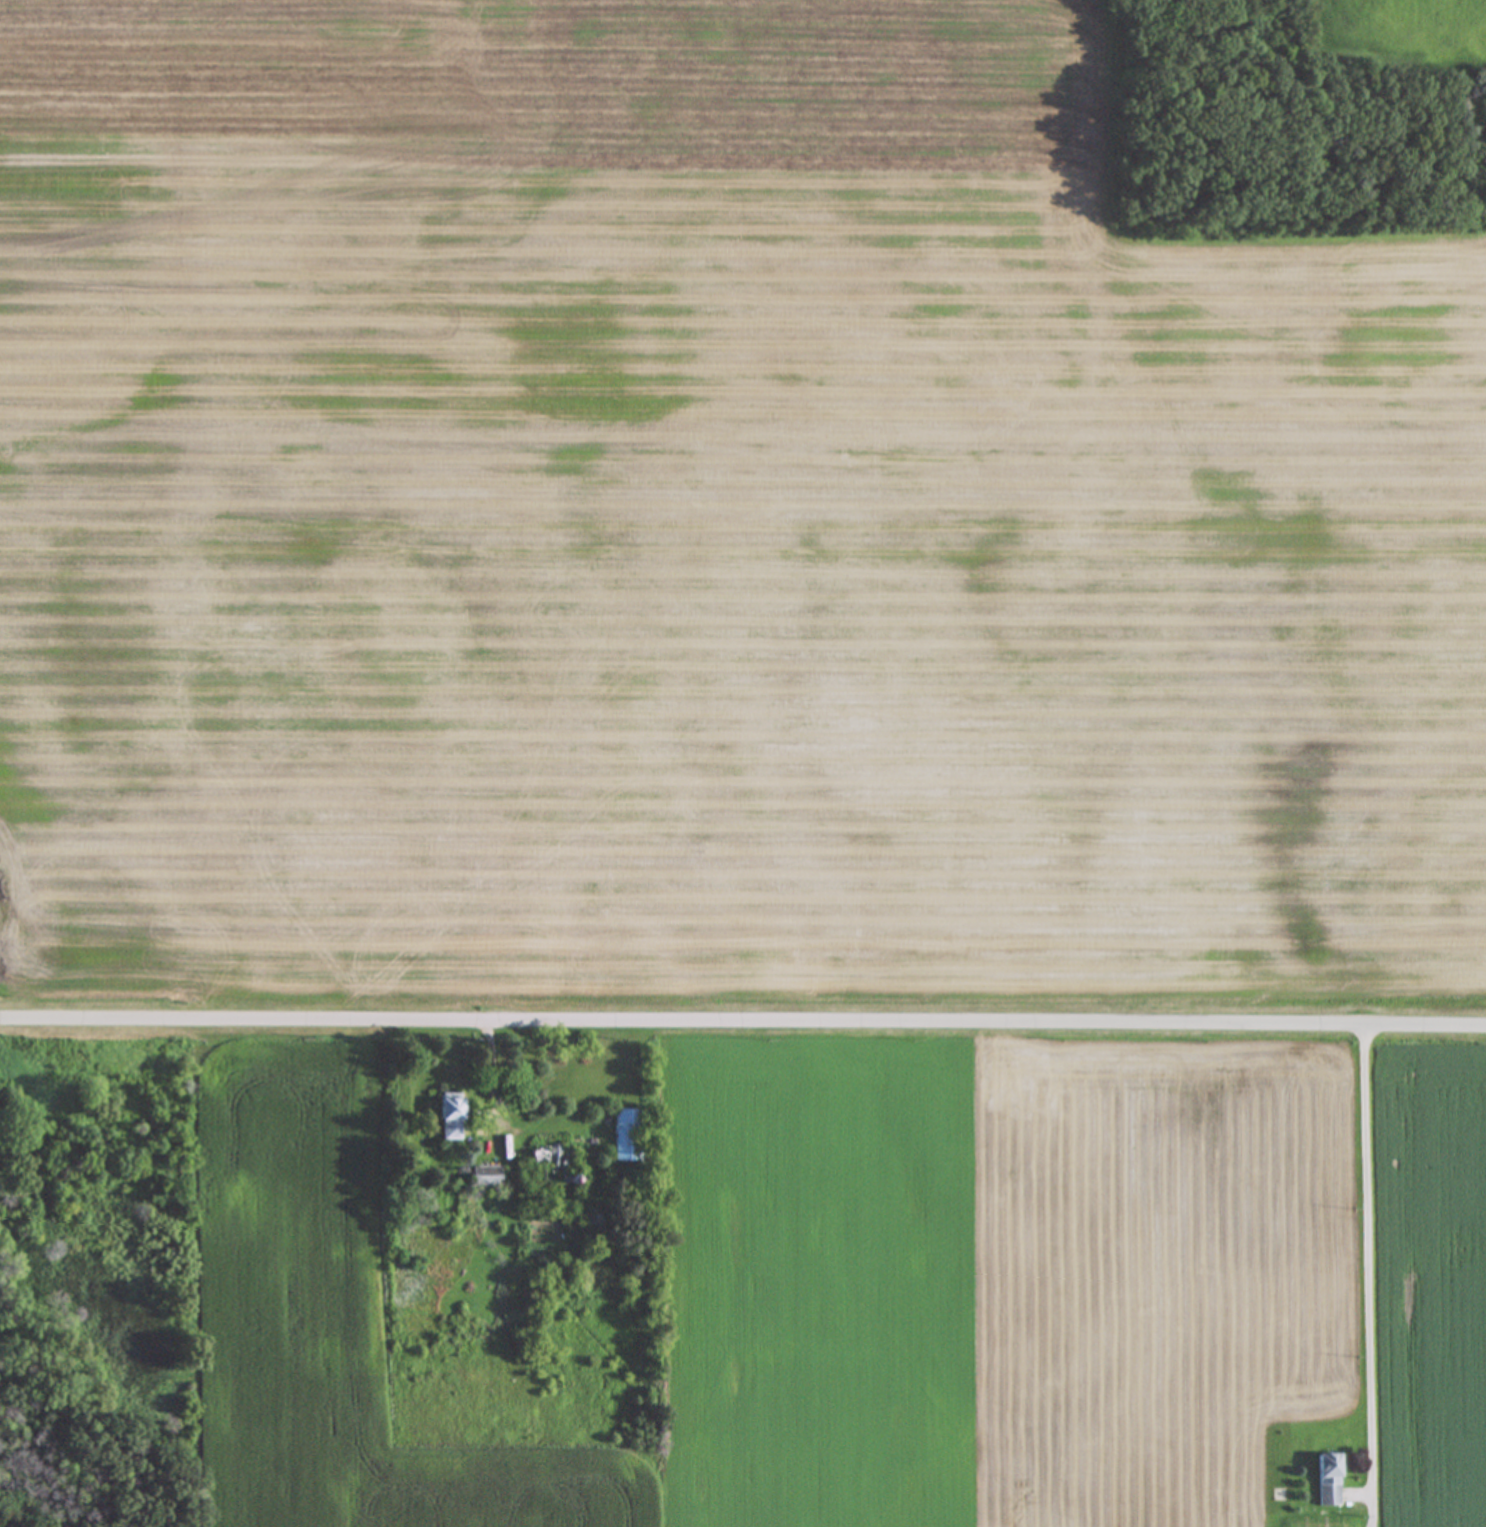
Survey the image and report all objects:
road: (743, 1027)
building: (451, 1118)
building: (628, 1135)
building: (554, 1165)
building: (488, 1177)
road: (1365, 1258)
building: (1329, 1480)

